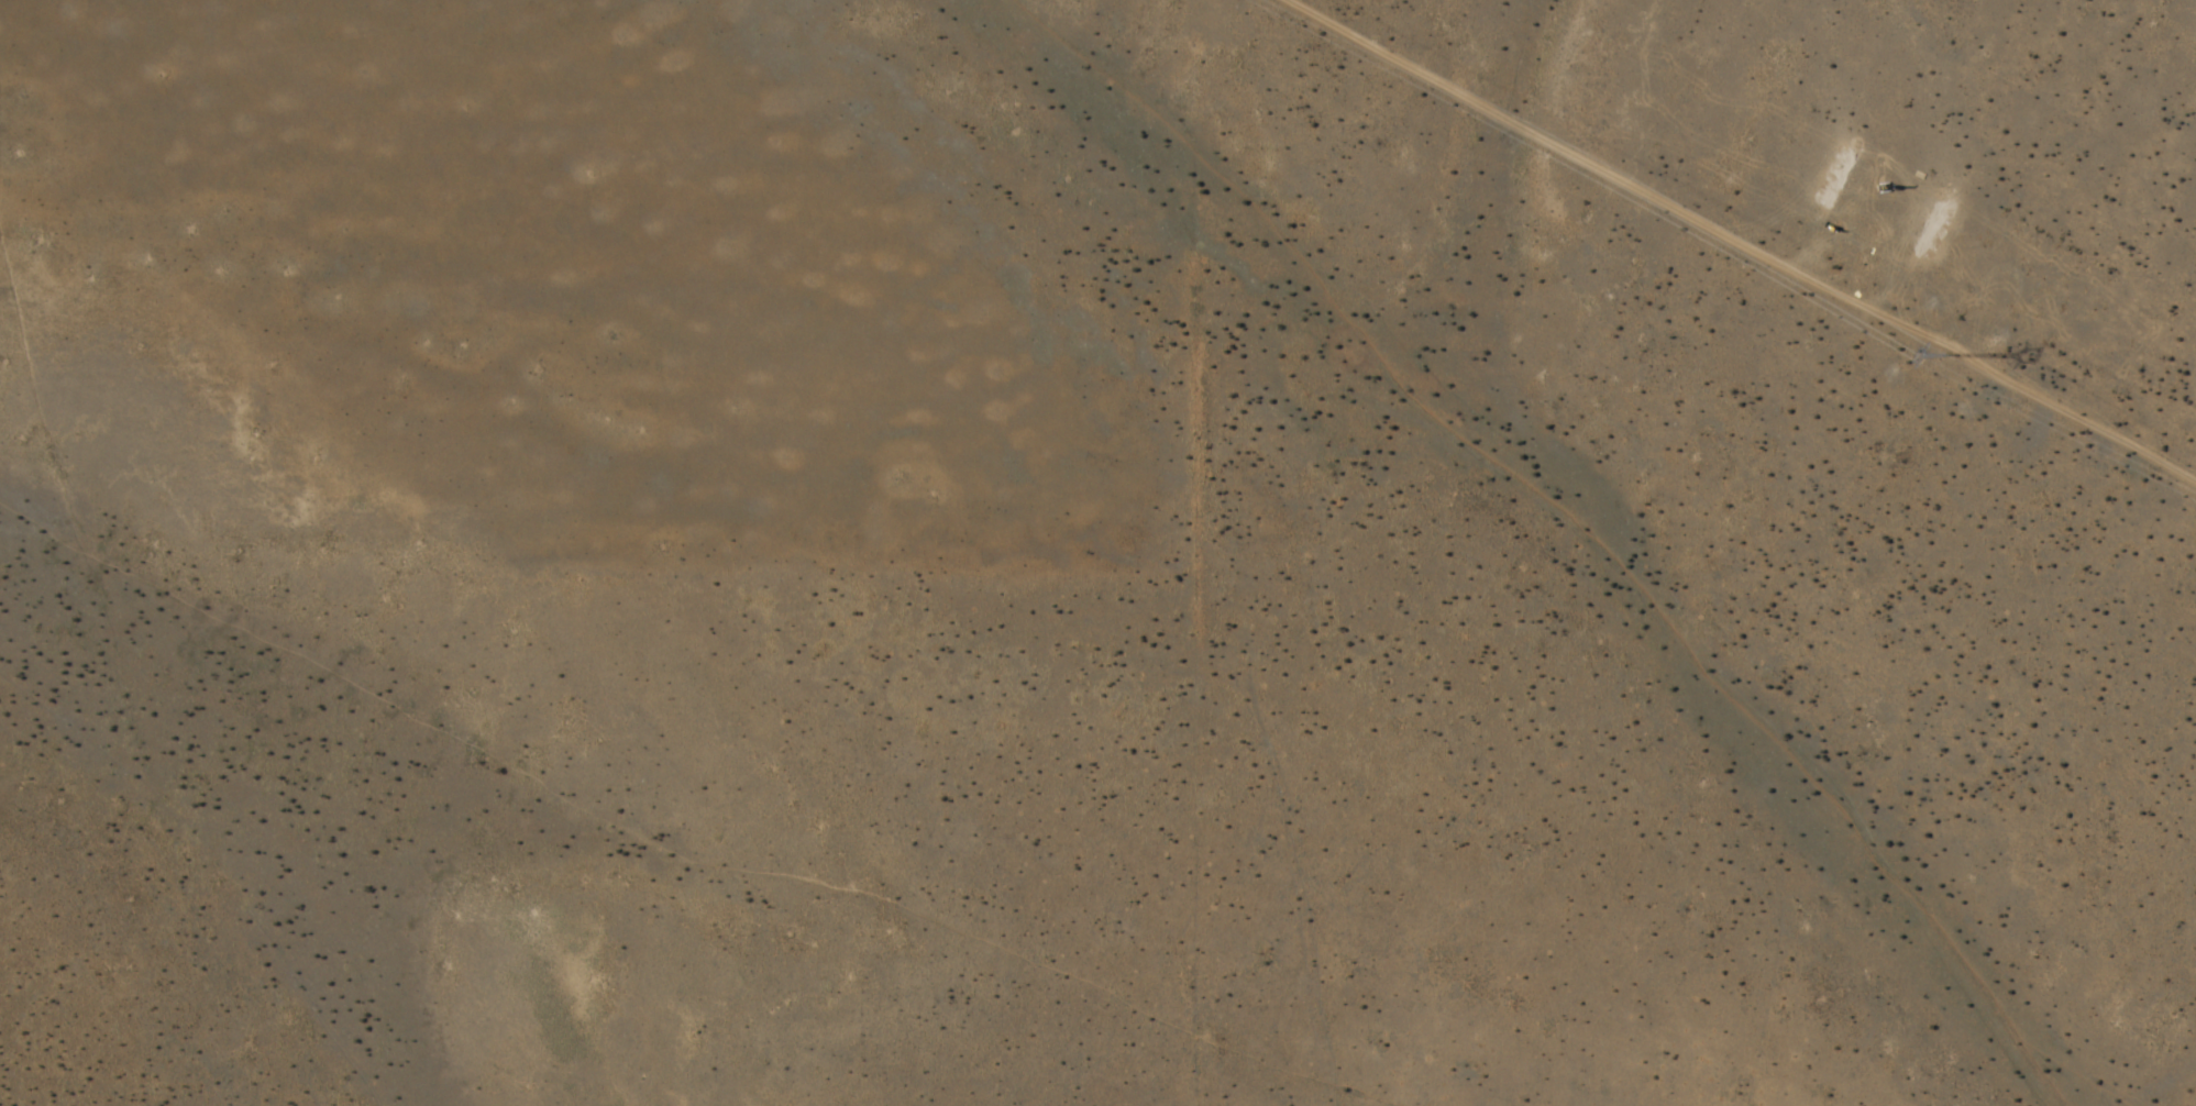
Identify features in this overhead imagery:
power tower: (1946, 356)

